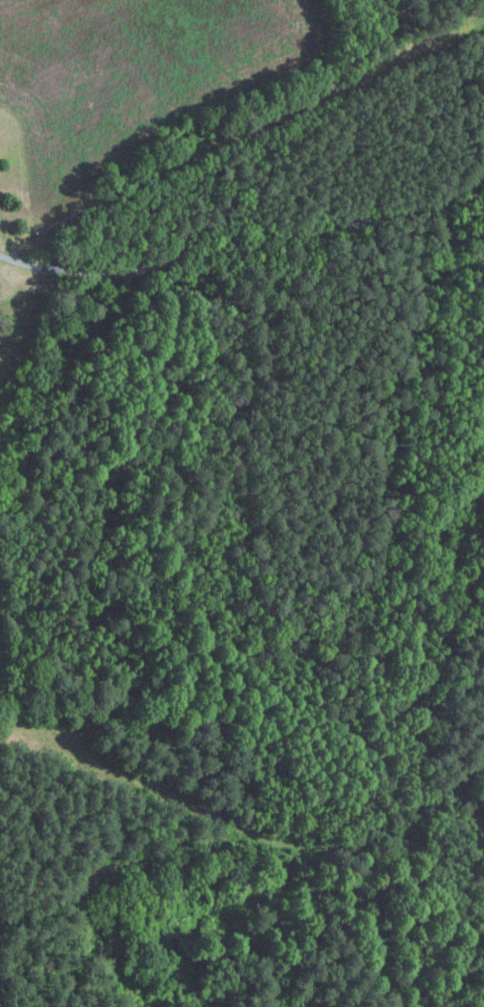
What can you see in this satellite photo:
road: (412, 114)
road: (241, 253)

